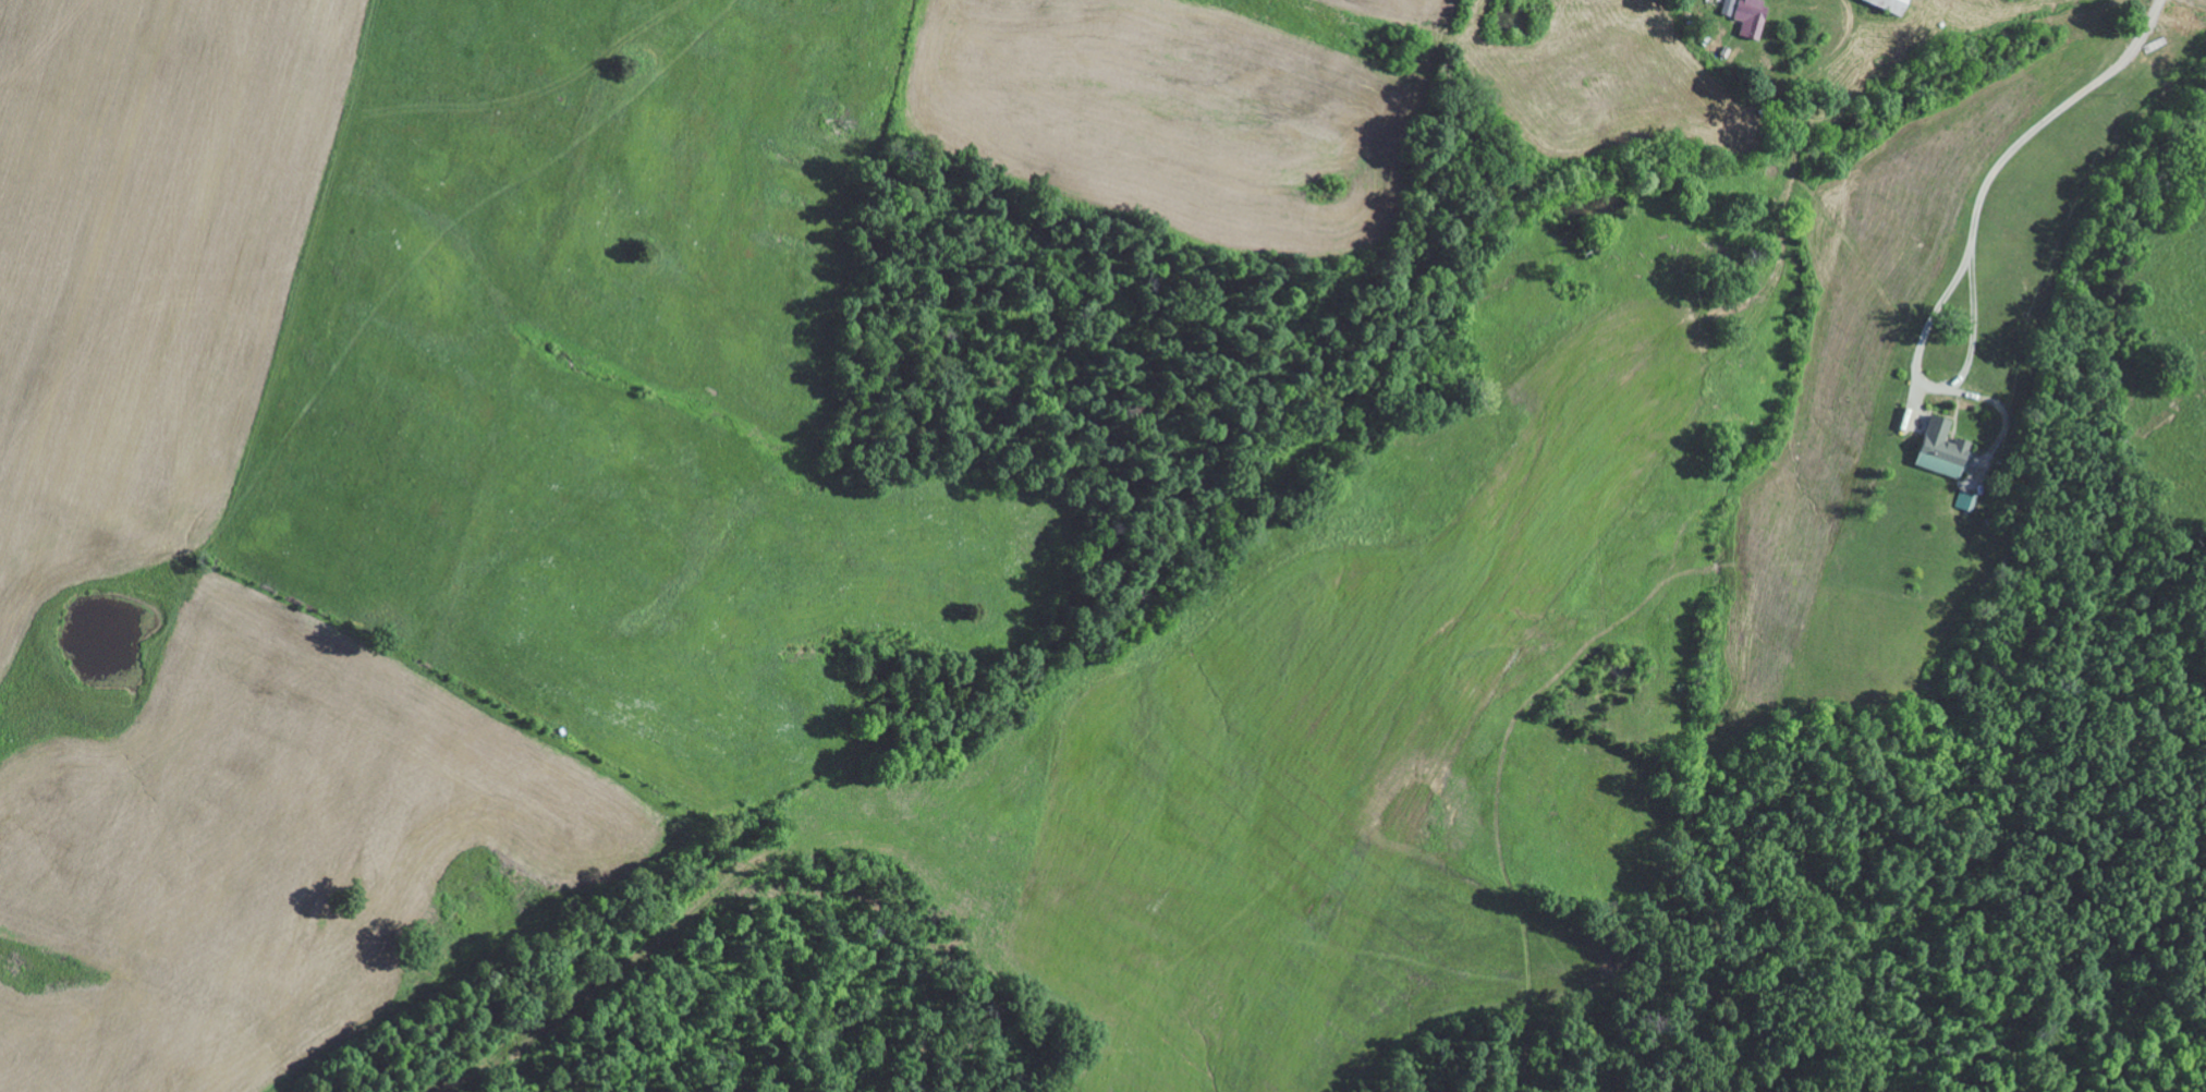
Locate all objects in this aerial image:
building: (1885, 5)
building: (1743, 14)
building: (1963, 501)

